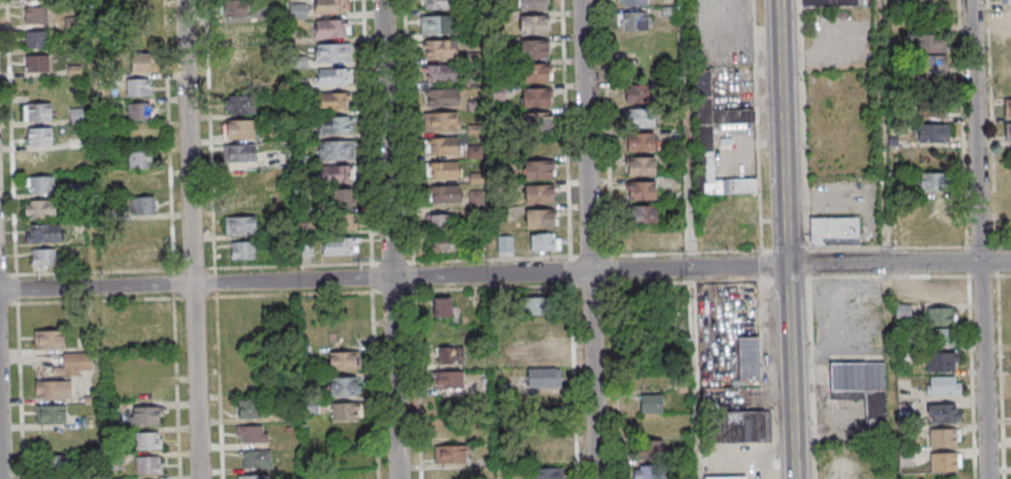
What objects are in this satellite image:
building: (38, 0)
building: (1005, 2)
building: (635, 3)
building: (830, 3)
building: (440, 5)
building: (535, 5)
building: (333, 7)
building: (237, 8)
building: (38, 16)
building: (1006, 20)
building: (634, 21)
building: (535, 25)
building: (439, 26)
building: (334, 29)
building: (237, 33)
building: (39, 40)
building: (536, 49)
building: (441, 50)
building: (335, 53)
building: (929, 55)
building: (236, 59)
building: (139, 63)
building: (39, 64)
building: (442, 74)
building: (537, 74)
building: (335, 78)
building: (235, 80)
building: (142, 88)
building: (642, 95)
building: (538, 98)
building: (444, 99)
building: (337, 102)
building: (243, 105)
building: (934, 108)
building: (1007, 109)
building: (141, 112)
building: (41, 113)
building: (76, 115)
building: (643, 119)
building: (444, 123)
building: (539, 123)
building: (338, 126)
building: (243, 130)
road: (410, 131)
building: (933, 132)
building: (1008, 132)
road: (690, 134)
building: (42, 137)
building: (75, 140)
building: (642, 143)
road: (11, 144)
building: (444, 147)
building: (339, 151)
building: (704, 151)
road: (370, 152)
building: (244, 154)
road: (171, 155)
building: (141, 161)
building: (643, 167)
building: (541, 171)
building: (445, 172)
building: (335, 174)
building: (238, 177)
building: (932, 182)
building: (143, 185)
building: (44, 186)
building: (644, 192)
building: (444, 194)
building: (541, 195)
building: (238, 201)
building: (145, 207)
building: (342, 209)
building: (45, 210)
road: (215, 212)
building: (645, 216)
building: (542, 221)
building: (439, 223)
building: (239, 225)
building: (834, 232)
building: (48, 234)
building: (643, 238)
road: (194, 239)
road: (393, 239)
road: (593, 239)
road: (790, 239)
road: (888, 239)
road: (983, 239)
building: (544, 243)
building: (444, 244)
building: (505, 245)
building: (338, 246)
road: (990, 246)
building: (306, 249)
building: (242, 250)
road: (791, 250)
building: (142, 254)
road: (592, 257)
building: (46, 259)
road: (493, 259)
road: (998, 261)
road: (95, 272)
road: (505, 273)
road: (609, 285)
road: (492, 286)
building: (902, 289)
building: (941, 291)
road: (117, 300)
road: (8, 303)
building: (441, 306)
building: (542, 307)
building: (944, 318)
building: (540, 331)
building: (948, 339)
building: (51, 341)
building: (542, 355)
building: (748, 356)
building: (449, 357)
building: (347, 362)
building: (77, 363)
building: (943, 363)
road: (973, 363)
road: (617, 367)
road: (575, 368)
road: (419, 370)
road: (376, 371)
road: (178, 374)
road: (698, 374)
road: (1003, 377)
building: (546, 378)
building: (449, 381)
building: (347, 387)
building: (946, 387)
road: (221, 388)
road: (20, 391)
building: (56, 391)
building: (651, 392)
building: (865, 395)
building: (251, 410)
building: (349, 413)
building: (948, 415)
building: (53, 416)
building: (150, 417)
road: (2, 419)
building: (740, 427)
building: (254, 435)
building: (945, 439)
building: (150, 443)
building: (653, 450)
road: (770, 451)
building: (549, 453)
building: (452, 456)
building: (905, 458)
building: (259, 461)
building: (946, 463)
building: (55, 465)
building: (151, 467)
building: (649, 472)
building: (547, 473)
building: (451, 474)
building: (726, 477)
building: (114, 478)
building: (257, 478)

